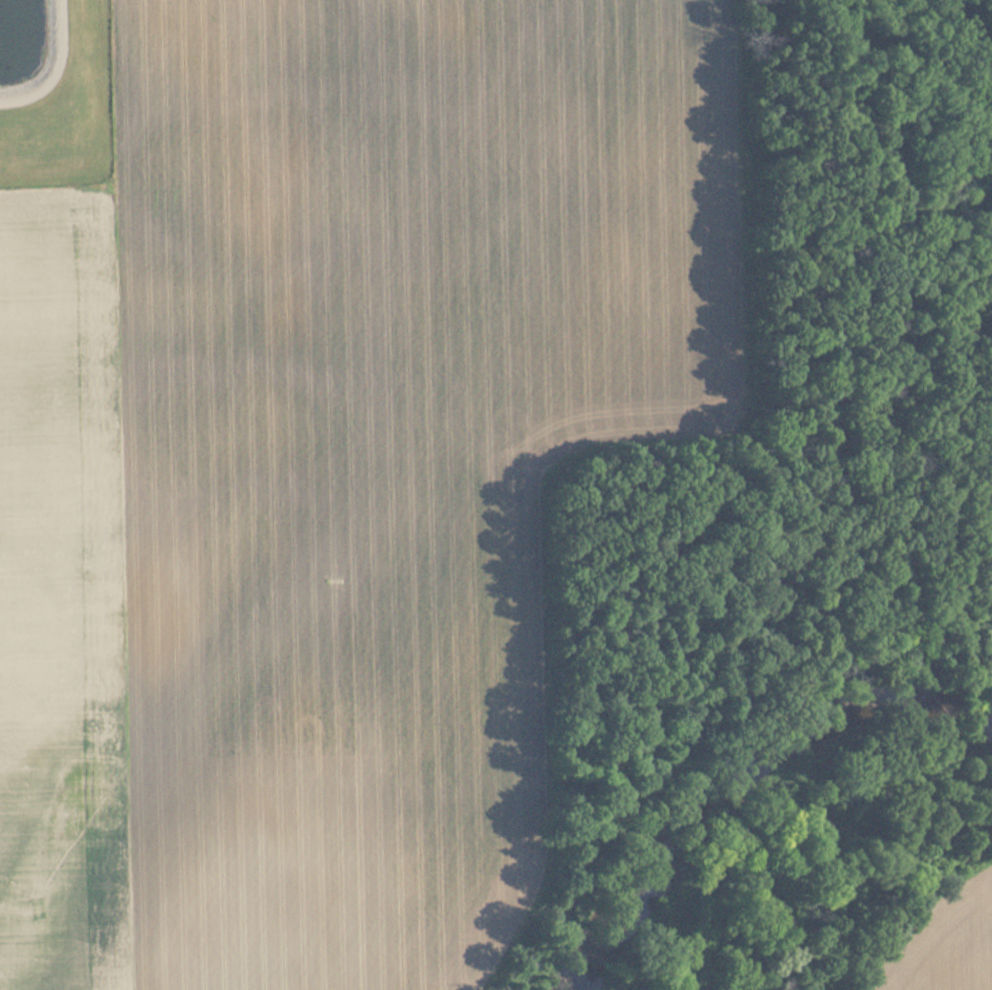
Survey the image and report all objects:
river: (970, 23)
river: (754, 789)

